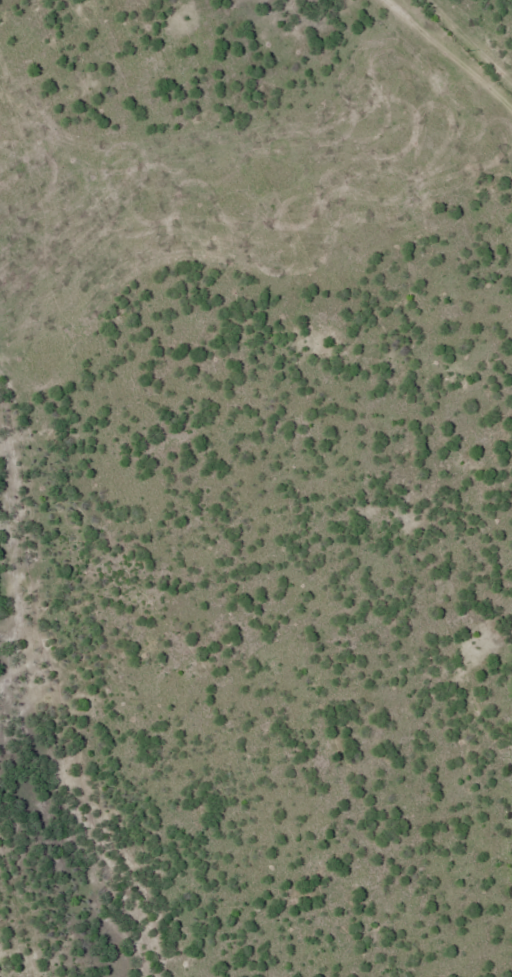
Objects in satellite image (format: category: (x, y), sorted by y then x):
road: (24, 17)

